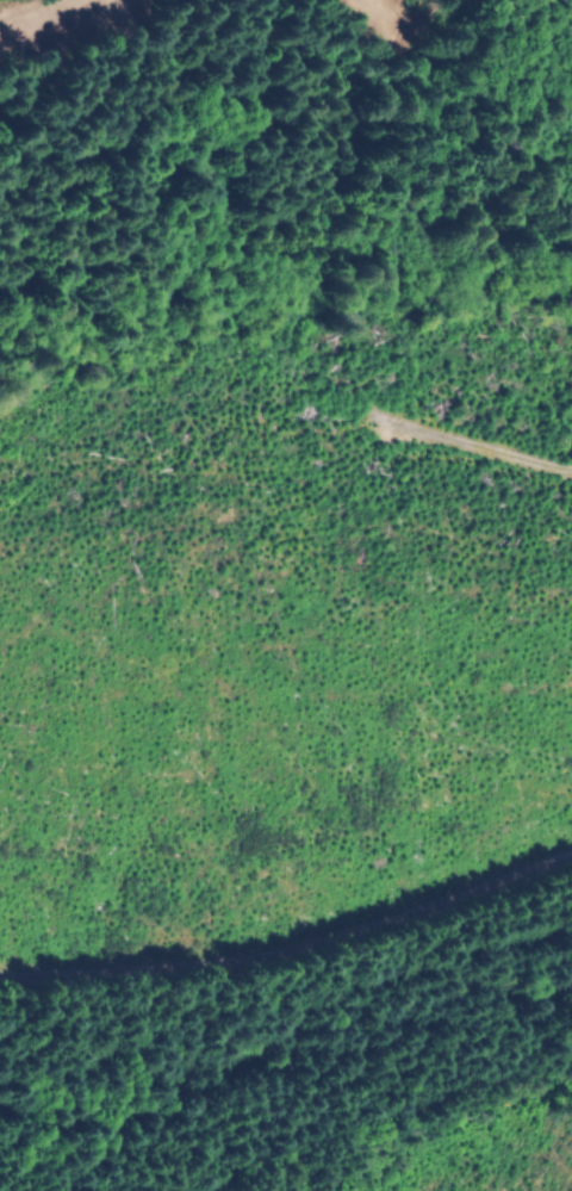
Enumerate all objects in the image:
road: (436, 440)
road: (291, 944)

